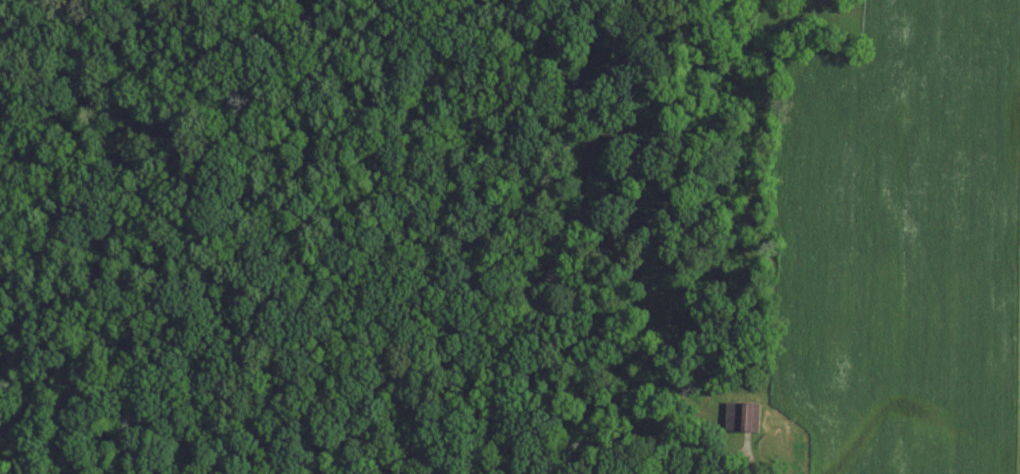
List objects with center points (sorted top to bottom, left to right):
road: (1019, 465)

